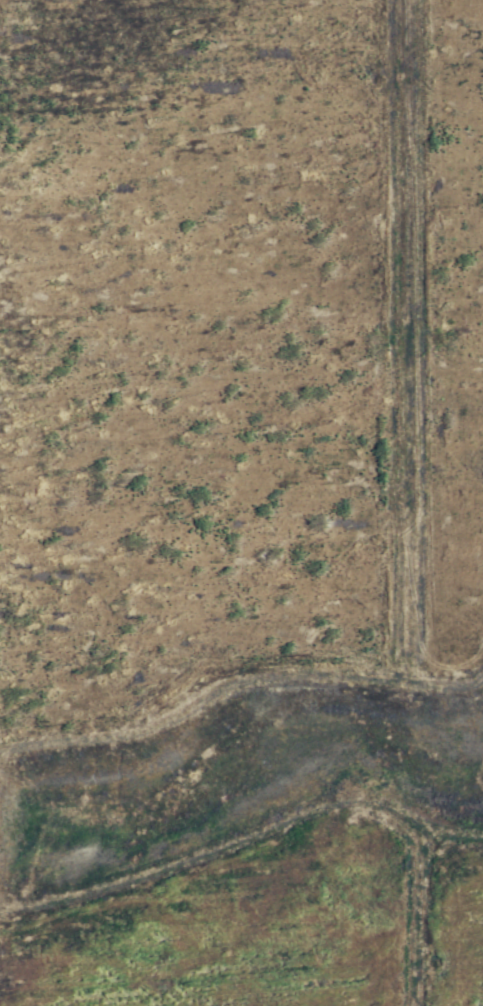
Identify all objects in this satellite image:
crop: (241, 503)

